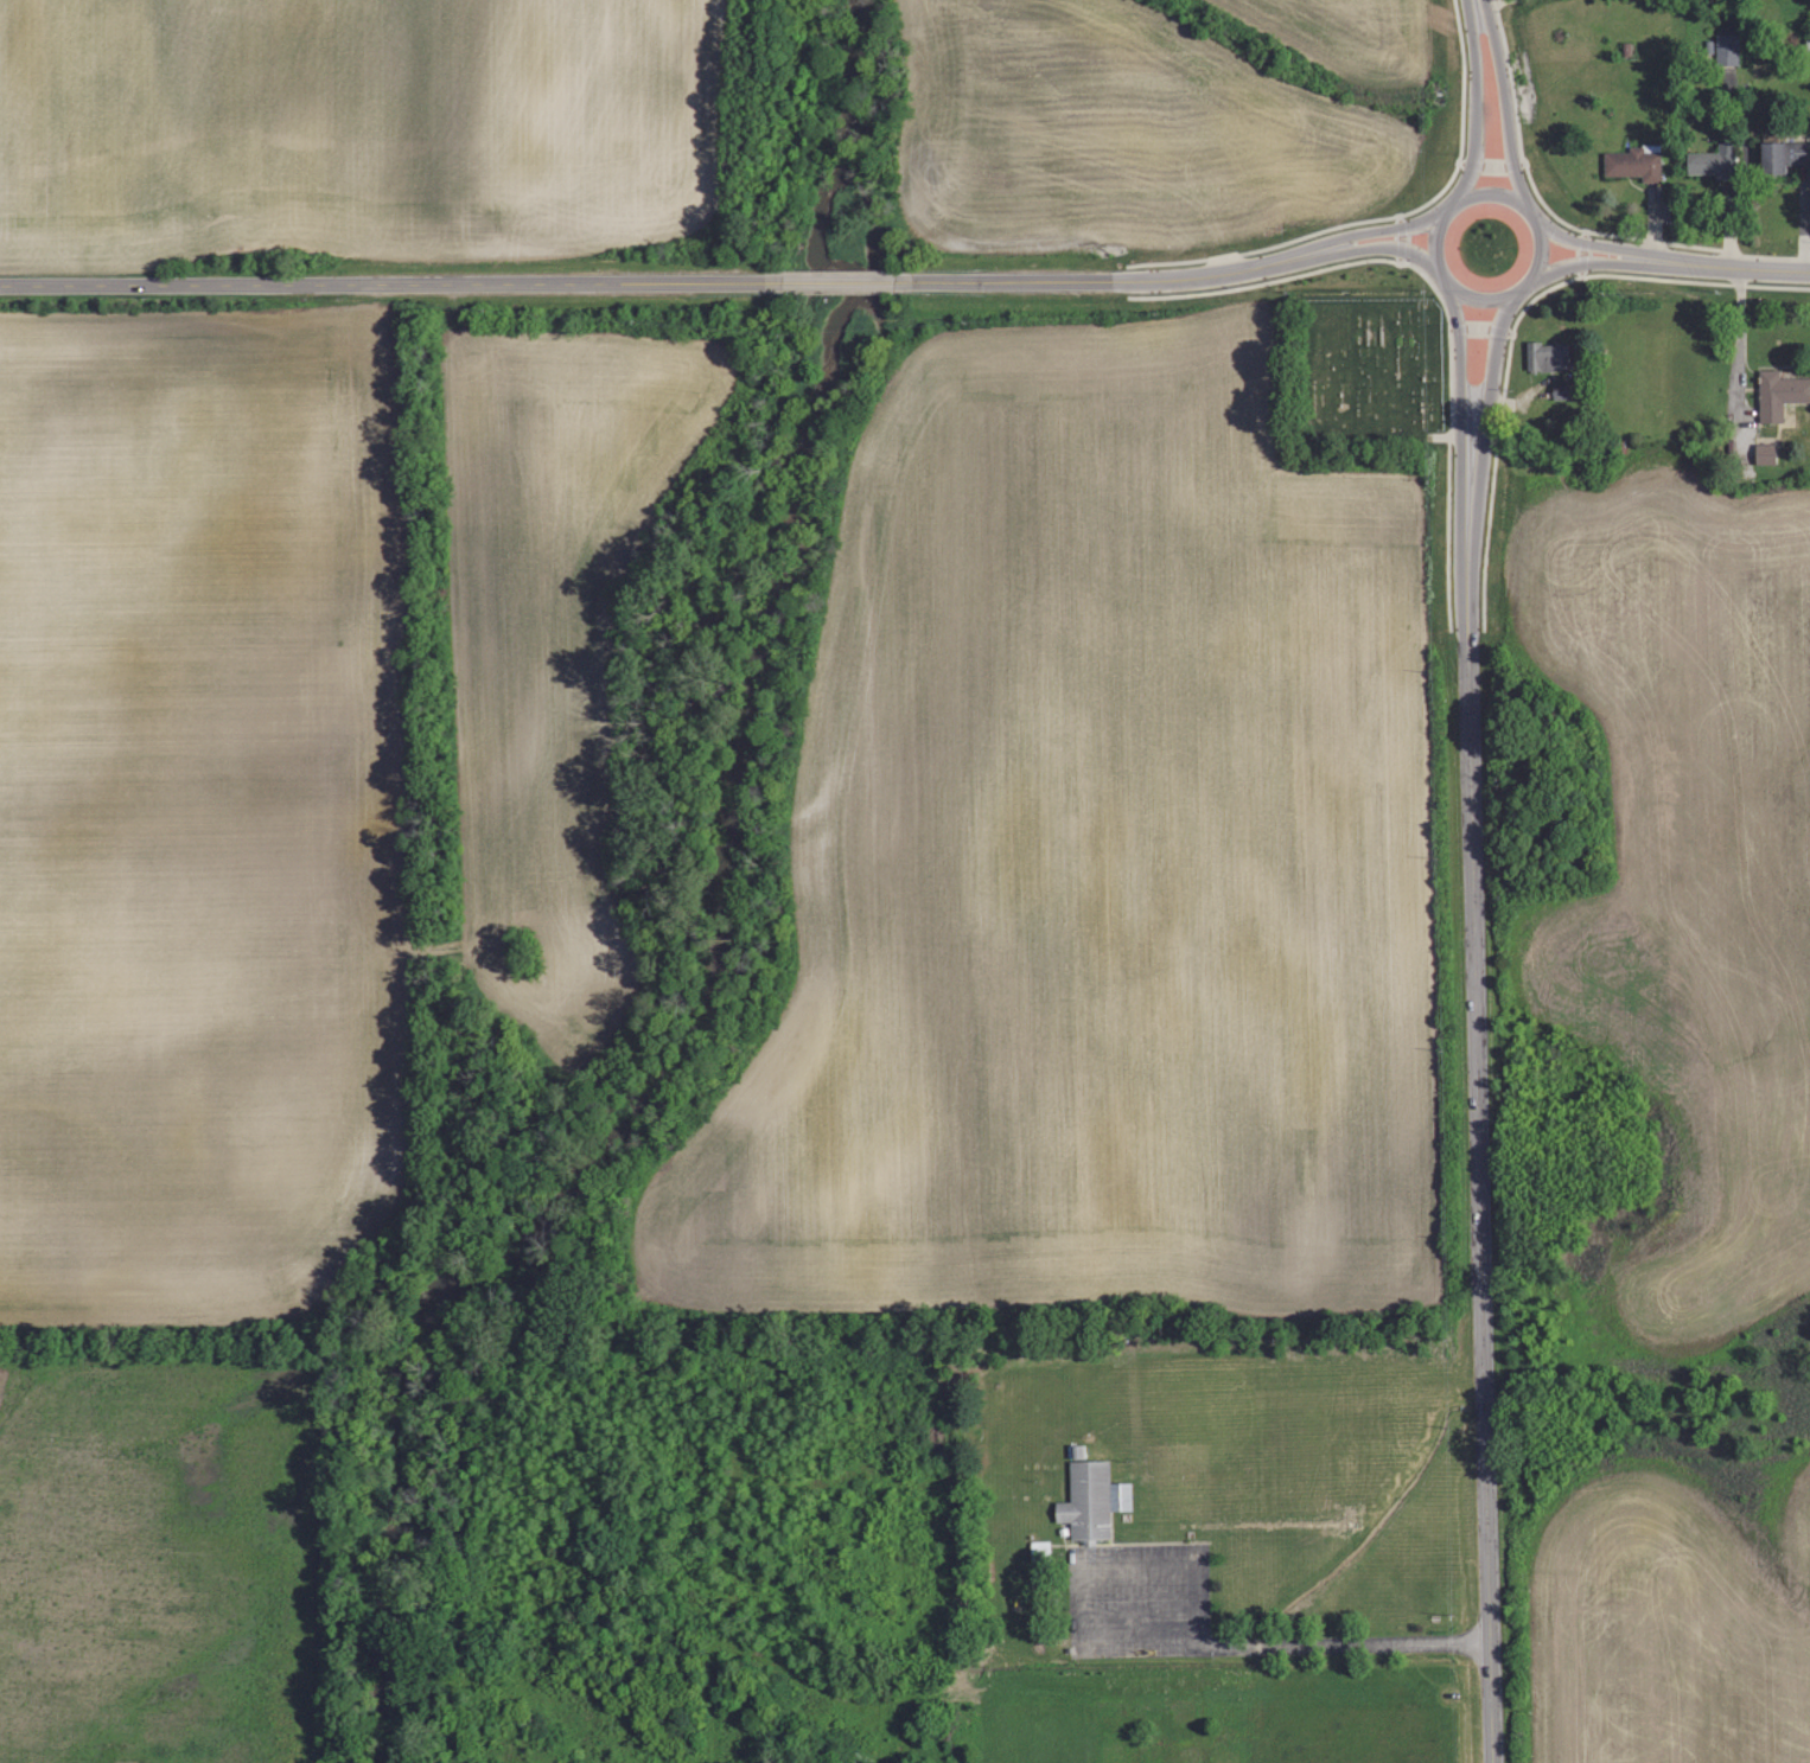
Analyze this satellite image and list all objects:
building: (1731, 47)
road: (1474, 104)
road: (1505, 104)
crop: (358, 127)
building: (1784, 155)
building: (1632, 162)
building: (1713, 164)
road: (1491, 165)
road: (1489, 184)
road: (1536, 194)
road: (1385, 218)
road: (1363, 234)
road: (1403, 239)
road: (1611, 247)
road: (1362, 250)
road: (1582, 255)
road: (1610, 264)
road: (1755, 268)
road: (1082, 280)
road: (839, 283)
road: (393, 286)
road: (1442, 299)
road: (1517, 322)
road: (1483, 330)
road: (1741, 337)
building: (1547, 358)
park: (1364, 364)
building: (1780, 396)
road: (1465, 430)
road: (1483, 433)
building: (1770, 454)
crop: (197, 810)
river: (716, 922)
road: (1480, 1177)
building: (1095, 1499)
crop: (159, 1564)
road: (1174, 1629)

